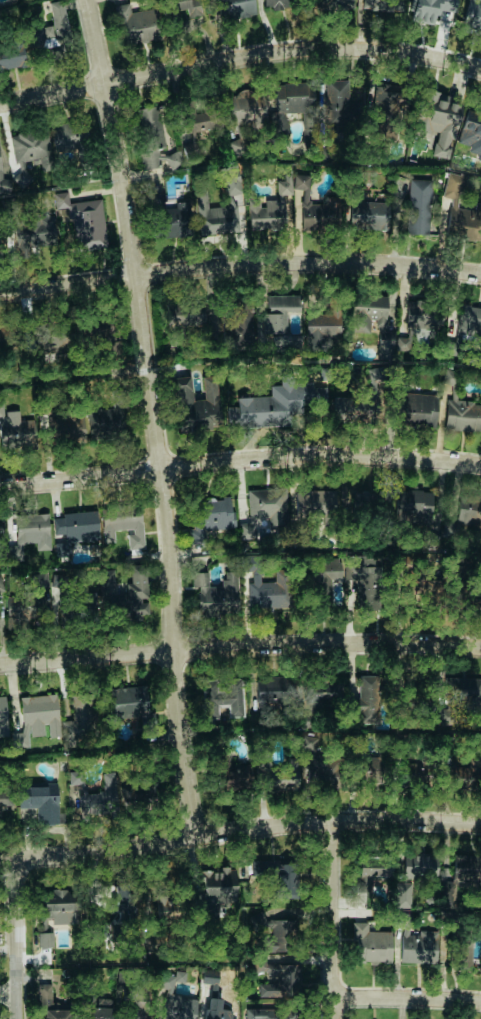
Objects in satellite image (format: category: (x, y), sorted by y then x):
building: (285, 3)
building: (330, 5)
building: (384, 5)
building: (186, 6)
building: (235, 8)
building: (431, 10)
building: (473, 17)
building: (138, 24)
building: (51, 28)
road: (239, 57)
building: (298, 100)
building: (338, 109)
building: (247, 111)
building: (198, 122)
building: (438, 124)
building: (280, 128)
building: (69, 135)
building: (471, 135)
building: (154, 140)
building: (28, 154)
building: (231, 179)
building: (4, 184)
building: (418, 206)
building: (269, 207)
building: (316, 207)
building: (460, 208)
building: (216, 215)
building: (369, 215)
building: (176, 220)
building: (84, 221)
building: (41, 230)
road: (240, 263)
building: (184, 315)
building: (420, 315)
building: (280, 321)
building: (373, 321)
building: (469, 321)
building: (320, 328)
building: (57, 334)
building: (3, 340)
building: (449, 376)
building: (197, 404)
building: (273, 405)
building: (417, 410)
building: (462, 415)
road: (154, 416)
building: (108, 419)
building: (58, 423)
building: (15, 428)
road: (239, 459)
building: (264, 509)
building: (464, 511)
building: (210, 518)
building: (123, 525)
building: (74, 529)
building: (27, 534)
building: (59, 579)
building: (364, 579)
building: (327, 580)
building: (137, 581)
building: (107, 586)
building: (418, 586)
building: (268, 592)
building: (216, 594)
building: (26, 602)
building: (89, 602)
road: (240, 646)
building: (273, 689)
building: (324, 691)
building: (368, 698)
building: (460, 699)
building: (128, 702)
building: (3, 717)
building: (80, 718)
building: (316, 763)
building: (410, 766)
building: (370, 768)
building: (463, 773)
building: (234, 777)
building: (283, 778)
building: (108, 784)
building: (5, 797)
building: (82, 797)
building: (41, 802)
road: (47, 828)
road: (239, 830)
building: (419, 864)
building: (372, 874)
building: (460, 875)
building: (281, 876)
building: (217, 886)
building: (402, 893)
building: (59, 907)
building: (170, 908)
road: (333, 918)
building: (283, 935)
road: (17, 937)
building: (44, 939)
building: (415, 942)
building: (370, 944)
building: (466, 953)
building: (281, 980)
building: (209, 991)
road: (9, 997)
road: (408, 1000)
building: (178, 1007)
building: (132, 1011)
building: (96, 1012)
building: (218, 1013)
building: (272, 1013)

